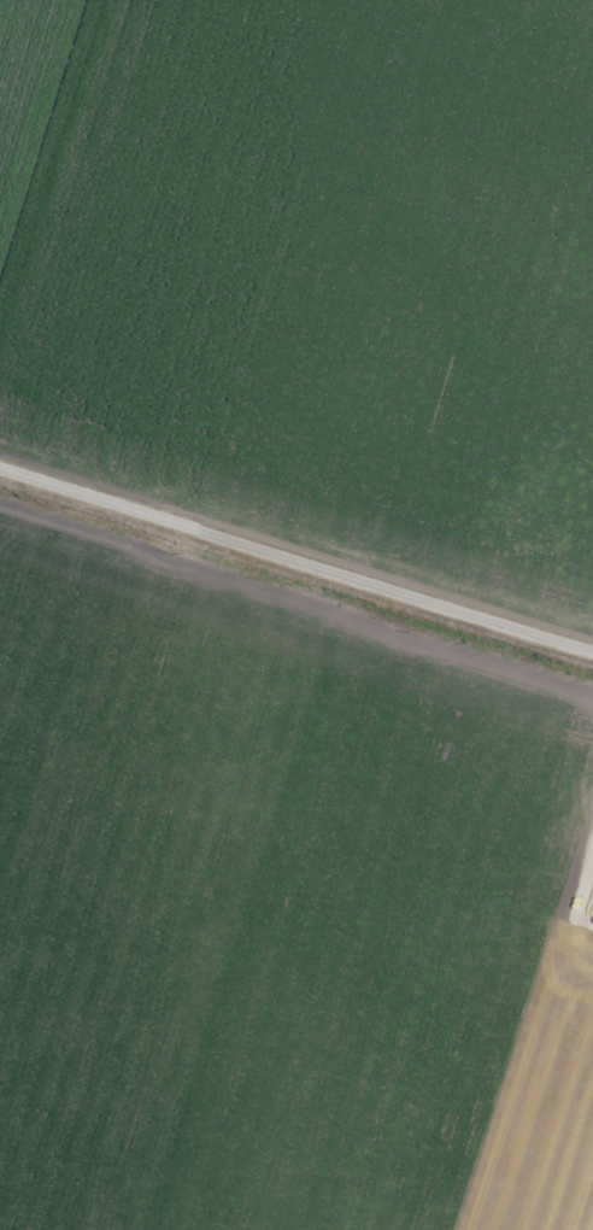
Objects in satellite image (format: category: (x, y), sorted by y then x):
building: (81, 150)
road: (296, 540)
building: (566, 1137)
building: (582, 1217)

